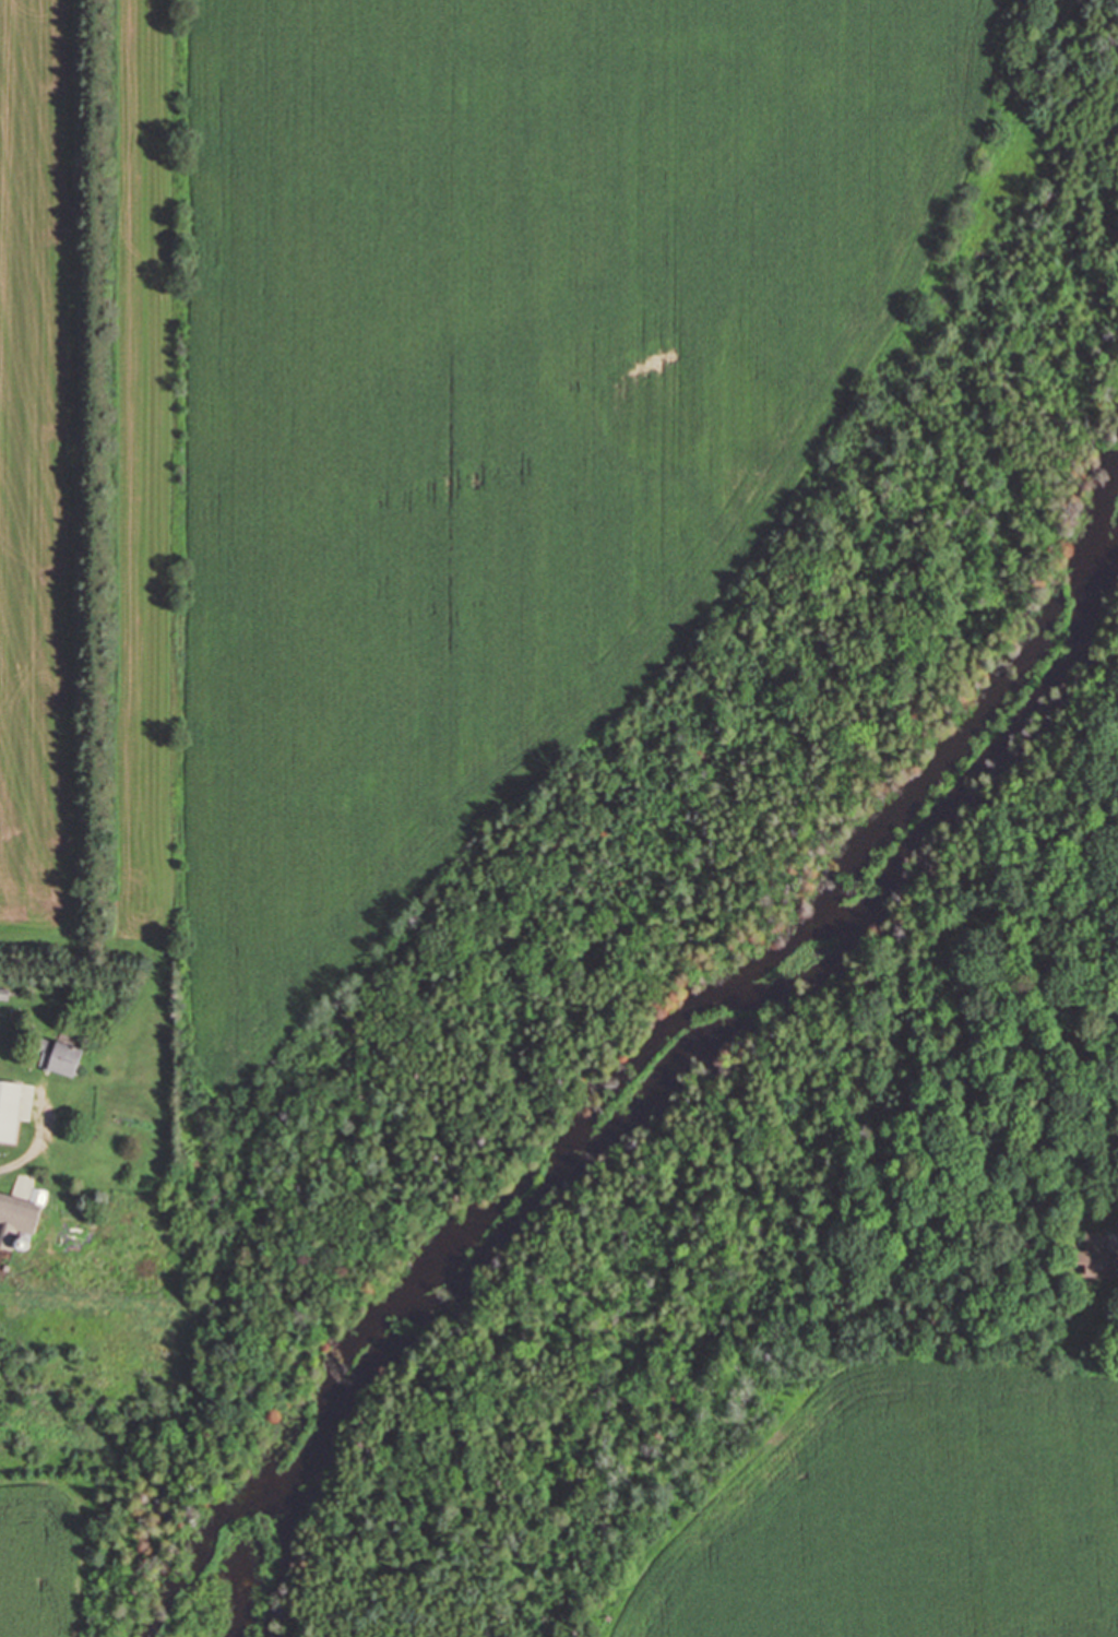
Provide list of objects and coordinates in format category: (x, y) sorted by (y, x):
road: (180, 618)
building: (2, 994)
river: (679, 1015)
building: (56, 1058)
building: (8, 1110)
building: (21, 1212)
building: (1092, 1255)

